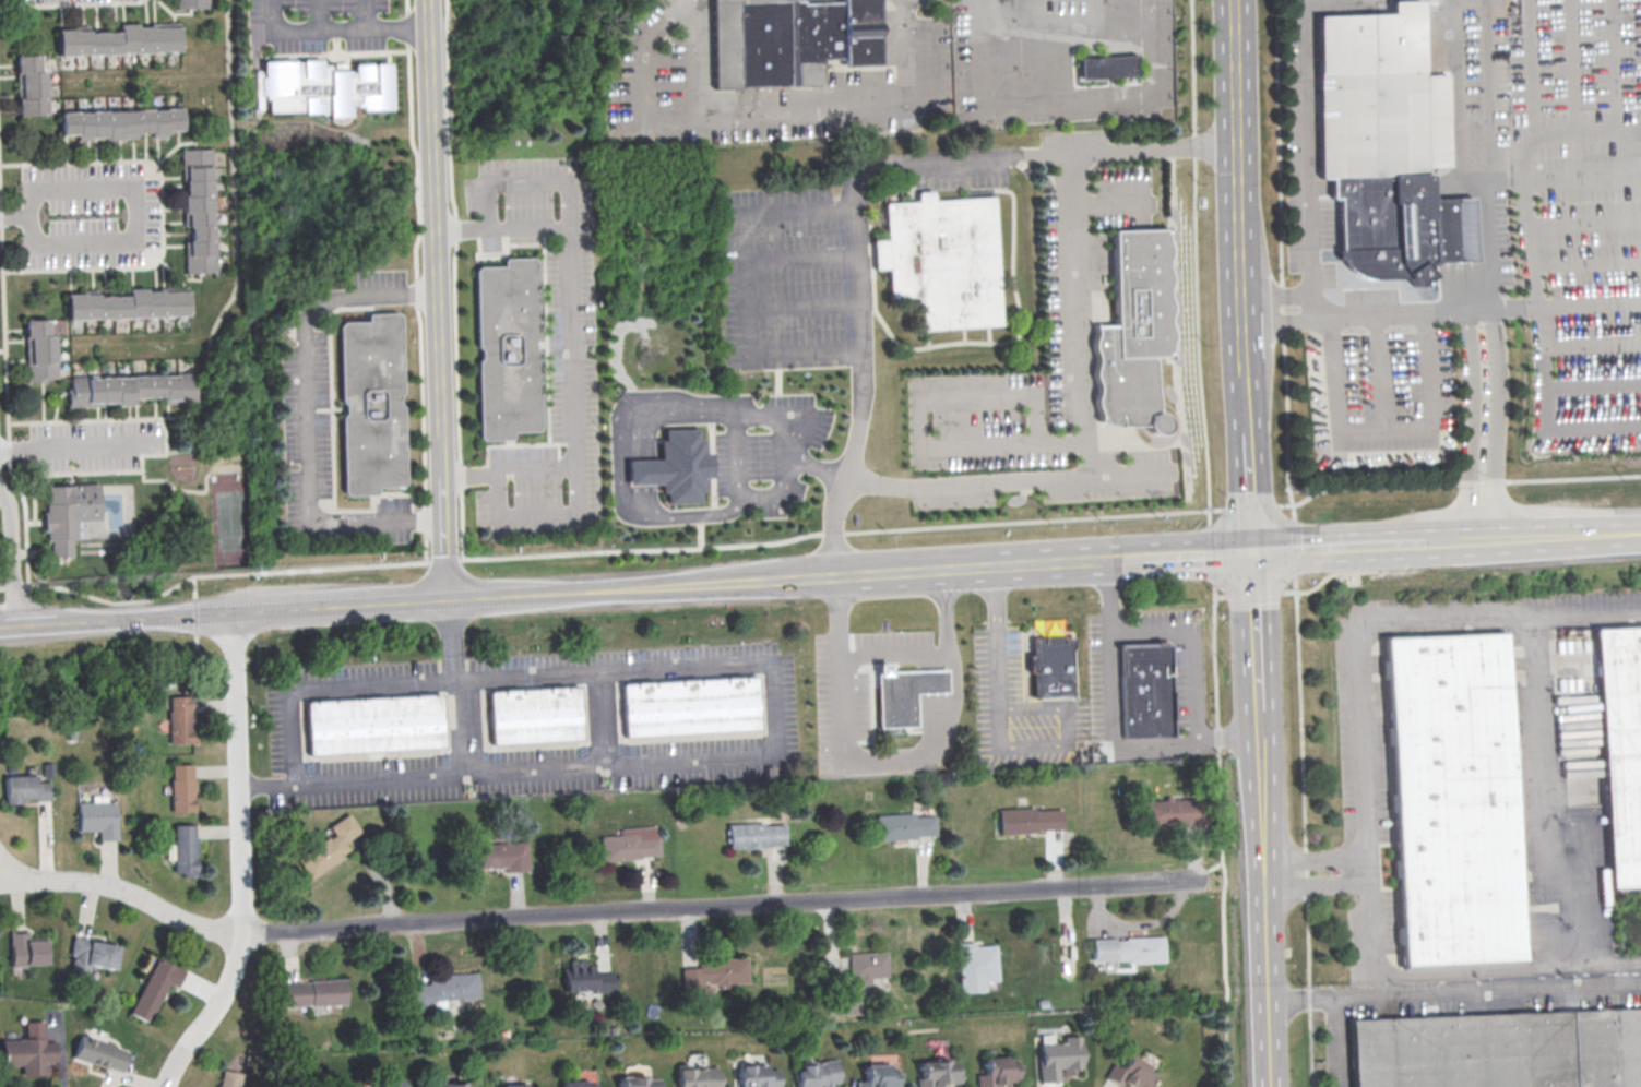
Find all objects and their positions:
road: (72, 4)
building: (190, 4)
road: (366, 14)
road: (332, 29)
building: (789, 39)
building: (117, 41)
road: (1573, 67)
road: (1615, 67)
building: (1108, 69)
building: (323, 86)
building: (28, 87)
road: (1083, 100)
road: (760, 114)
building: (119, 123)
road: (1585, 133)
building: (1384, 143)
road: (1531, 153)
road: (1310, 155)
road: (1493, 155)
road: (1036, 156)
road: (1563, 177)
road: (526, 180)
road: (1242, 192)
road: (856, 207)
building: (197, 210)
road: (140, 212)
road: (160, 213)
road: (14, 218)
road: (1586, 223)
road: (1198, 255)
road: (1286, 260)
building: (942, 261)
road: (1588, 263)
road: (436, 299)
road: (1589, 303)
building: (127, 306)
road: (1395, 312)
road: (1281, 316)
building: (1135, 331)
road: (1589, 341)
building: (504, 350)
road: (570, 351)
building: (37, 353)
road: (1378, 372)
road: (1591, 387)
building: (132, 389)
road: (1539, 389)
road: (5, 404)
building: (369, 405)
road: (1247, 410)
road: (308, 416)
road: (813, 420)
road: (918, 420)
road: (733, 421)
road: (1467, 421)
road: (1491, 421)
road: (1383, 430)
road: (1085, 435)
road: (76, 446)
road: (617, 467)
building: (670, 468)
road: (1456, 482)
road: (1249, 492)
road: (1248, 506)
road: (1213, 511)
building: (68, 513)
road: (536, 515)
road: (1562, 534)
road: (1452, 538)
road: (1389, 542)
road: (1296, 547)
road: (1304, 547)
road: (655, 550)
traffic signals: (1251, 551)
road: (1198, 554)
road: (13, 558)
road: (1092, 560)
road: (951, 569)
road: (1327, 575)
road: (792, 578)
road: (56, 587)
road: (653, 587)
road: (1253, 593)
road: (1221, 596)
road: (377, 604)
road: (114, 620)
road: (28, 624)
road: (1253, 628)
road: (448, 638)
road: (1187, 648)
road: (893, 655)
road: (995, 658)
building: (1050, 666)
building: (1144, 689)
building: (904, 693)
building: (689, 707)
building: (533, 715)
road: (603, 717)
building: (180, 719)
parking lot: (532, 722)
road: (1110, 725)
building: (372, 726)
road: (468, 726)
road: (1066, 728)
building: (1621, 752)
road: (776, 755)
road: (885, 762)
road: (264, 786)
building: (181, 787)
building: (23, 790)
road: (1365, 793)
road: (1544, 795)
building: (1451, 802)
building: (1172, 811)
building: (96, 820)
building: (1030, 820)
building: (906, 826)
road: (1305, 831)
building: (757, 835)
building: (632, 844)
building: (329, 846)
building: (182, 849)
building: (499, 856)
road: (241, 861)
road: (1366, 868)
road: (121, 889)
road: (1262, 896)
road: (724, 906)
building: (1128, 948)
building: (25, 952)
building: (90, 956)
building: (867, 965)
building: (976, 966)
building: (712, 973)
building: (585, 978)
building: (152, 989)
building: (440, 989)
building: (311, 992)
road: (1453, 992)
building: (846, 1002)
road: (1336, 1042)
building: (27, 1050)
building: (1500, 1051)
building: (98, 1053)
building: (1059, 1056)
building: (997, 1073)
building: (1132, 1073)
building: (816, 1074)
building: (756, 1075)
building: (937, 1075)
building: (877, 1076)
building: (229, 1078)
building: (694, 1078)
building: (637, 1083)
building: (394, 1084)
building: (456, 1085)
building: (513, 1085)
building: (573, 1085)

